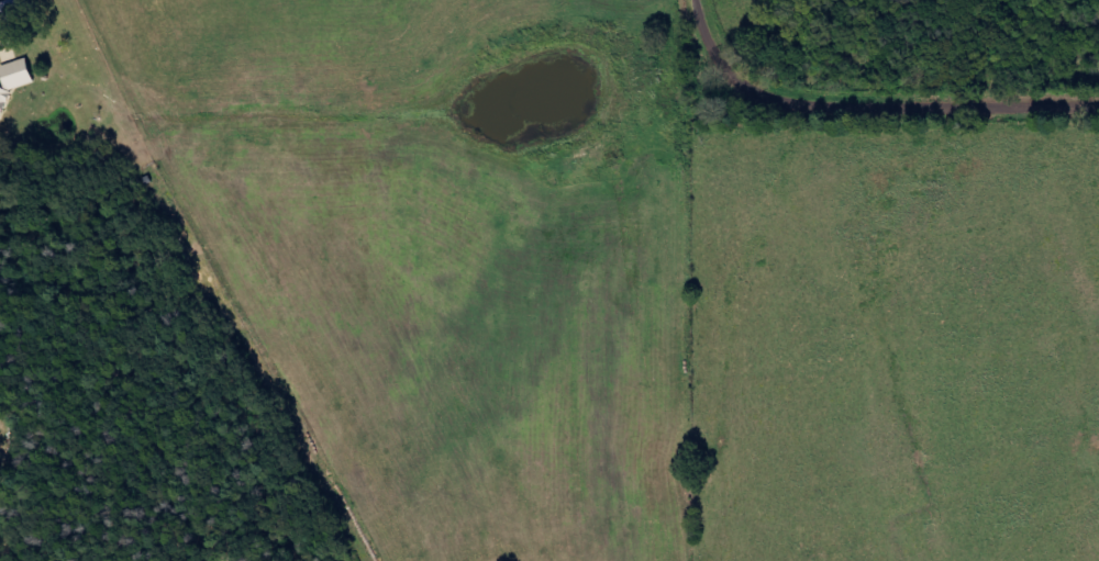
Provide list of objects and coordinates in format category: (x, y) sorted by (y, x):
building: (13, 10)
building: (23, 72)
building: (5, 102)
road: (875, 104)

